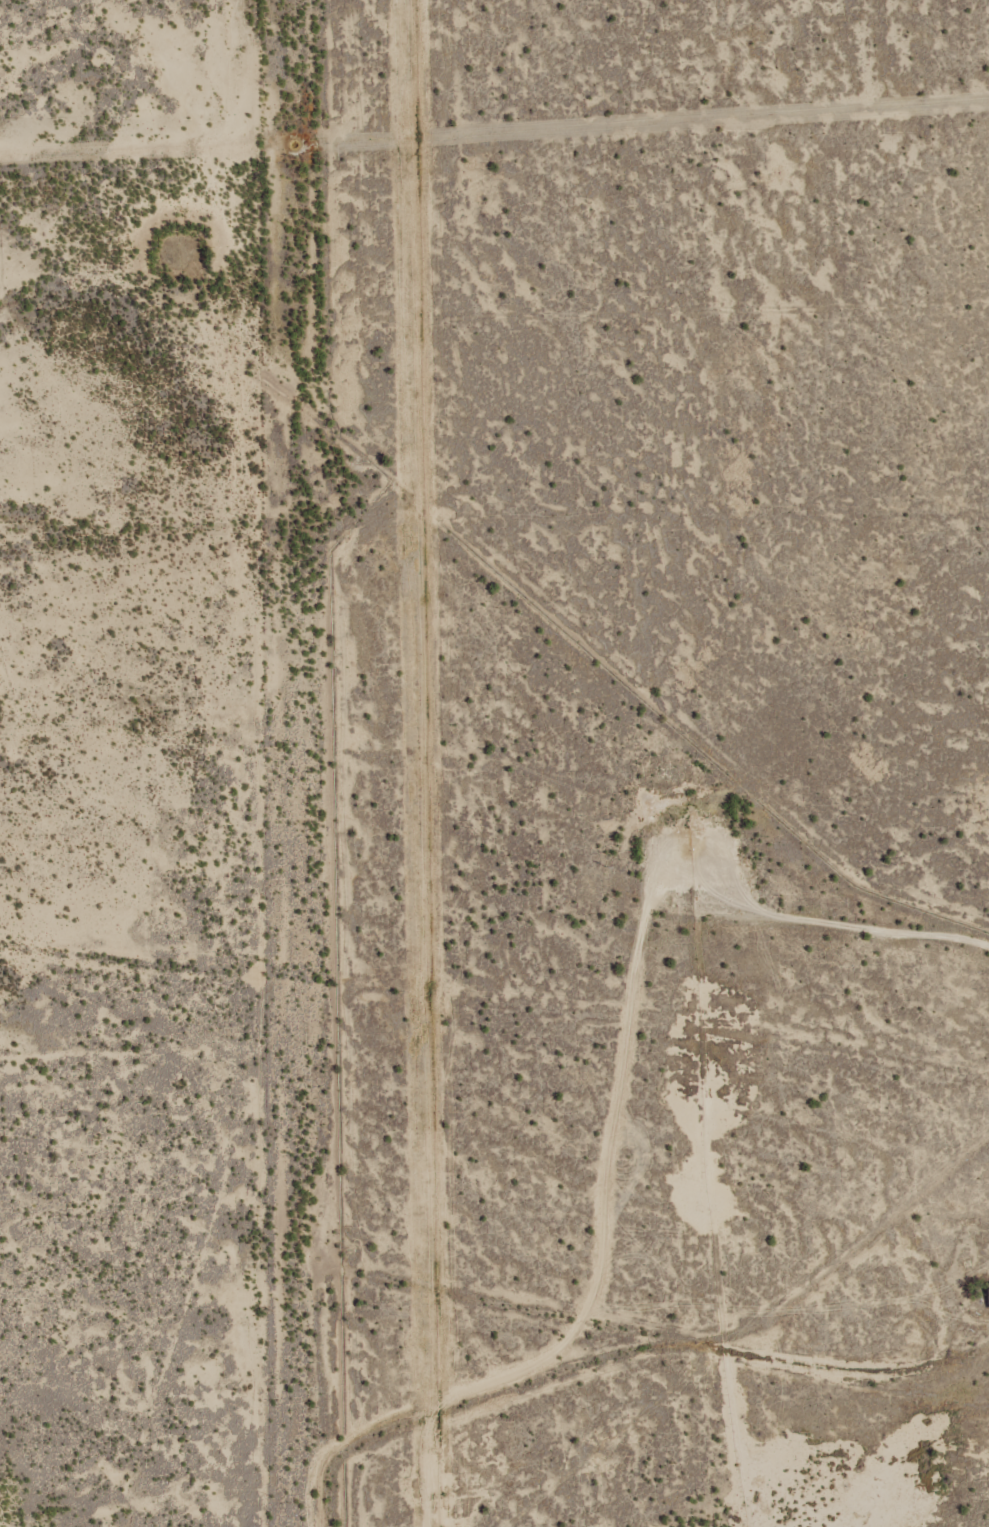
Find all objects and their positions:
road: (542, 1297)

